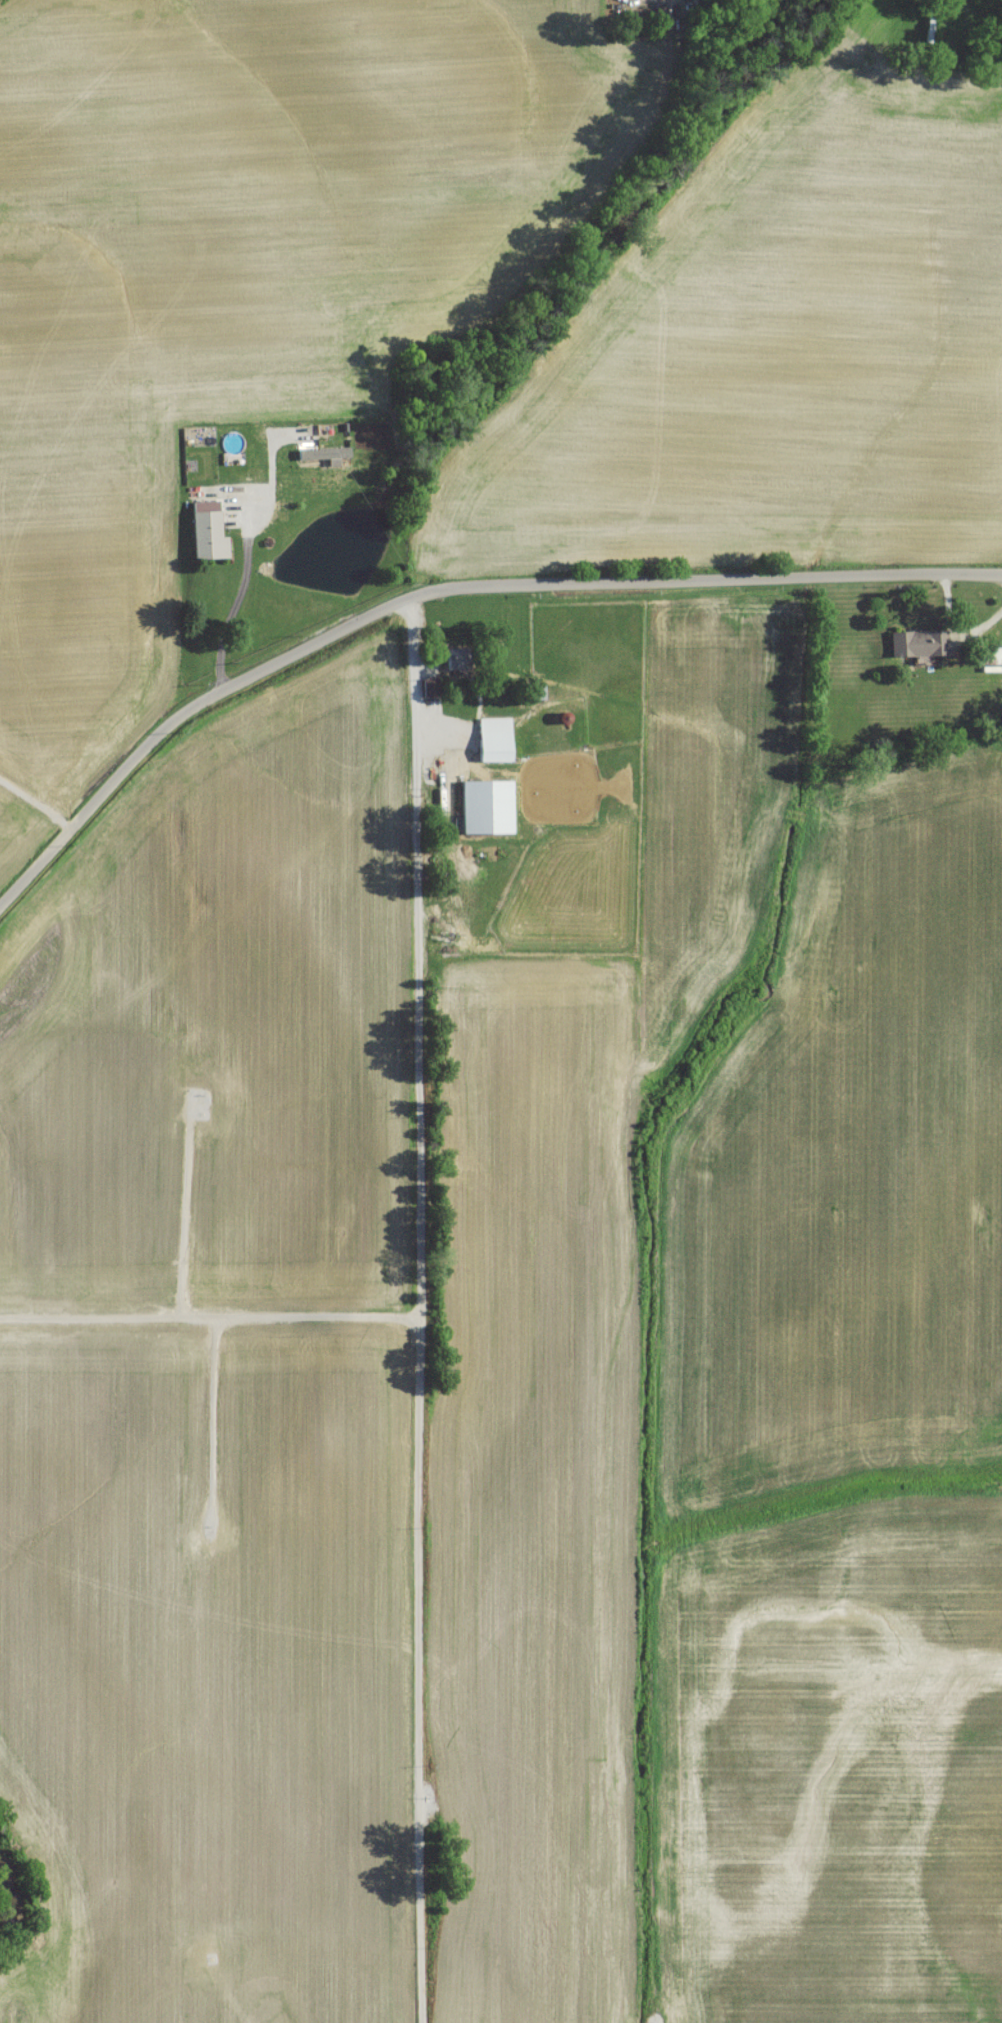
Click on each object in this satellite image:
building: (209, 542)
road: (447, 593)
building: (920, 649)
building: (990, 661)
building: (430, 692)
building: (495, 745)
building: (487, 812)
road: (412, 966)
petroleum well: (192, 1099)
petroleum well: (207, 1530)

